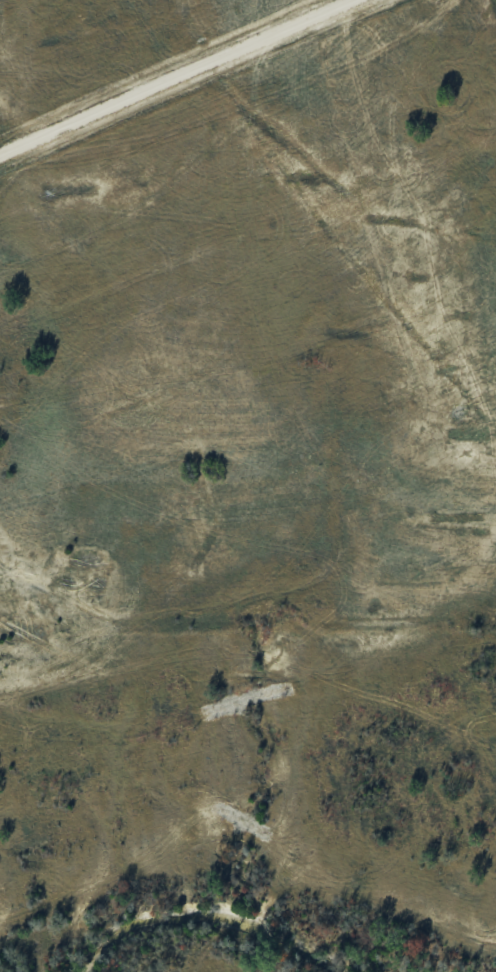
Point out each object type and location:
road: (180, 76)

